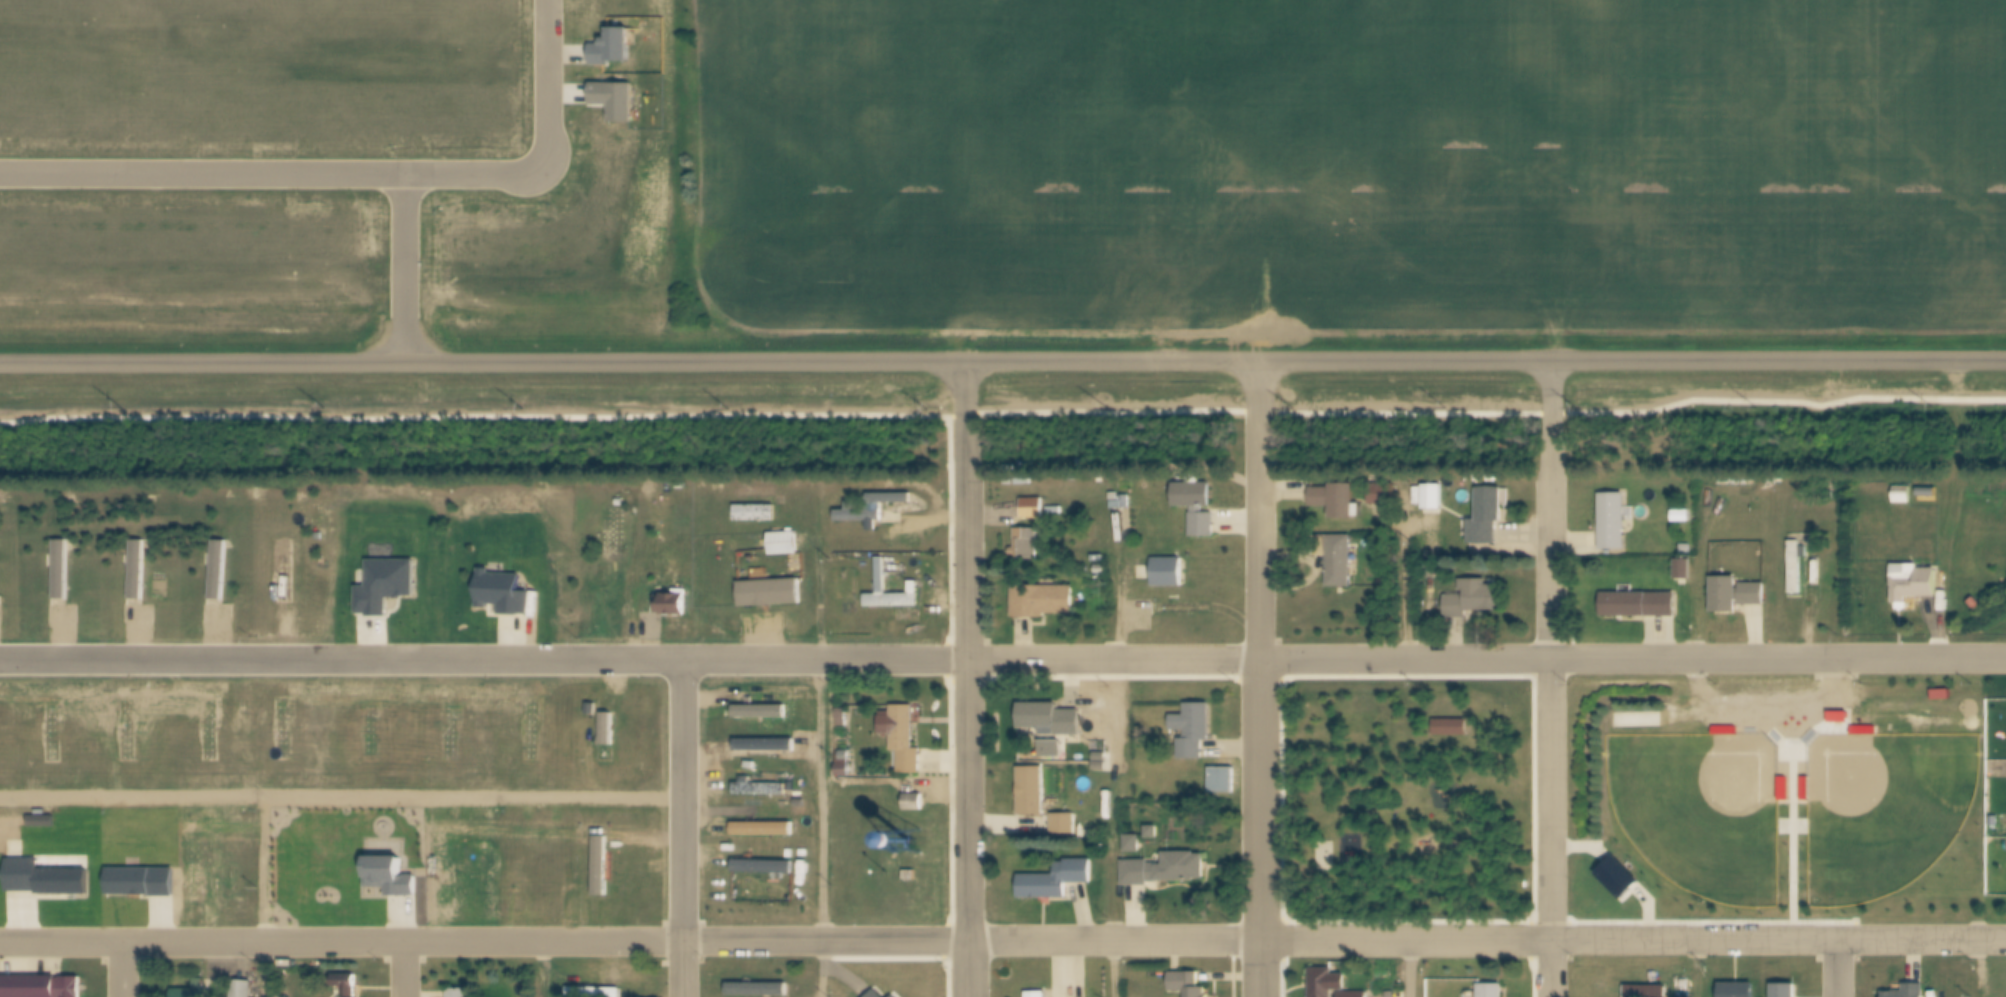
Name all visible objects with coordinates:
building: (610, 54)
building: (610, 105)
road: (352, 175)
road: (400, 269)
road: (1632, 359)
road: (629, 360)
building: (1380, 488)
building: (1929, 493)
building: (1905, 494)
building: (1116, 499)
building: (1377, 499)
building: (1336, 500)
building: (1434, 500)
building: (1129, 504)
building: (878, 507)
building: (1119, 508)
building: (1198, 510)
building: (1035, 511)
building: (1684, 513)
building: (757, 515)
building: (1488, 519)
building: (1616, 522)
building: (901, 539)
building: (786, 545)
building: (1027, 547)
building: (1688, 548)
building: (1341, 561)
building: (1798, 567)
building: (64, 571)
building: (140, 572)
building: (220, 572)
building: (1686, 572)
building: (1170, 574)
building: (1915, 583)
building: (388, 587)
building: (916, 590)
building: (507, 595)
building: (772, 595)
building: (1737, 595)
building: (1477, 602)
building: (1044, 603)
building: (1977, 604)
building: (1640, 605)
building: (675, 607)
building: (1186, 610)
road: (1632, 658)
road: (485, 659)
road: (1114, 660)
road: (970, 677)
road: (1553, 677)
road: (1259, 678)
building: (1943, 692)
building: (762, 710)
building: (594, 711)
building: (1840, 715)
building: (845, 718)
building: (1052, 723)
building: (530, 728)
building: (1453, 728)
building: (1727, 728)
building: (1866, 728)
building: (125, 729)
building: (282, 729)
building: (369, 729)
building: (449, 729)
building: (208, 730)
building: (50, 731)
building: (610, 731)
building: (1194, 732)
building: (907, 741)
building: (767, 746)
building: (1054, 752)
building: (847, 758)
building: (1102, 760)
building: (845, 771)
road: (802, 778)
building: (1223, 781)
building: (1786, 787)
building: (1808, 787)
building: (763, 790)
building: (1034, 795)
building: (1448, 796)
park: (1410, 798)
road: (343, 800)
road: (686, 801)
building: (916, 805)
park: (1888, 808)
park: (1705, 809)
road: (344, 824)
building: (1065, 827)
building: (765, 831)
building: (1154, 837)
water tower: (913, 840)
building: (1135, 846)
park: (1327, 853)
building: (1320, 855)
building: (604, 863)
building: (194, 868)
building: (276, 868)
building: (361, 868)
building: (604, 868)
building: (114, 869)
building: (441, 869)
building: (765, 869)
building: (1167, 872)
building: (489, 874)
building: (567, 874)
building: (1618, 874)
building: (516, 875)
building: (391, 878)
building: (49, 881)
building: (1057, 882)
building: (145, 884)
building: (418, 886)
road: (630, 942)
road: (1632, 942)
road: (686, 969)
road: (1118, 969)
road: (1413, 969)
road: (1839, 969)
road: (1981, 969)
road: (124, 970)
road: (405, 970)
building: (349, 985)
building: (1189, 985)
building: (1332, 985)
building: (41, 987)
building: (201, 987)
building: (760, 990)
building: (1786, 990)
building: (244, 991)
building: (1738, 991)
building: (1910, 991)
building: (184, 992)
building: (1493, 992)
building: (1649, 992)
building: (594, 993)
building: (461, 994)
building: (872, 994)
building: (879, 995)
building: (1038, 995)
building: (891, 996)

